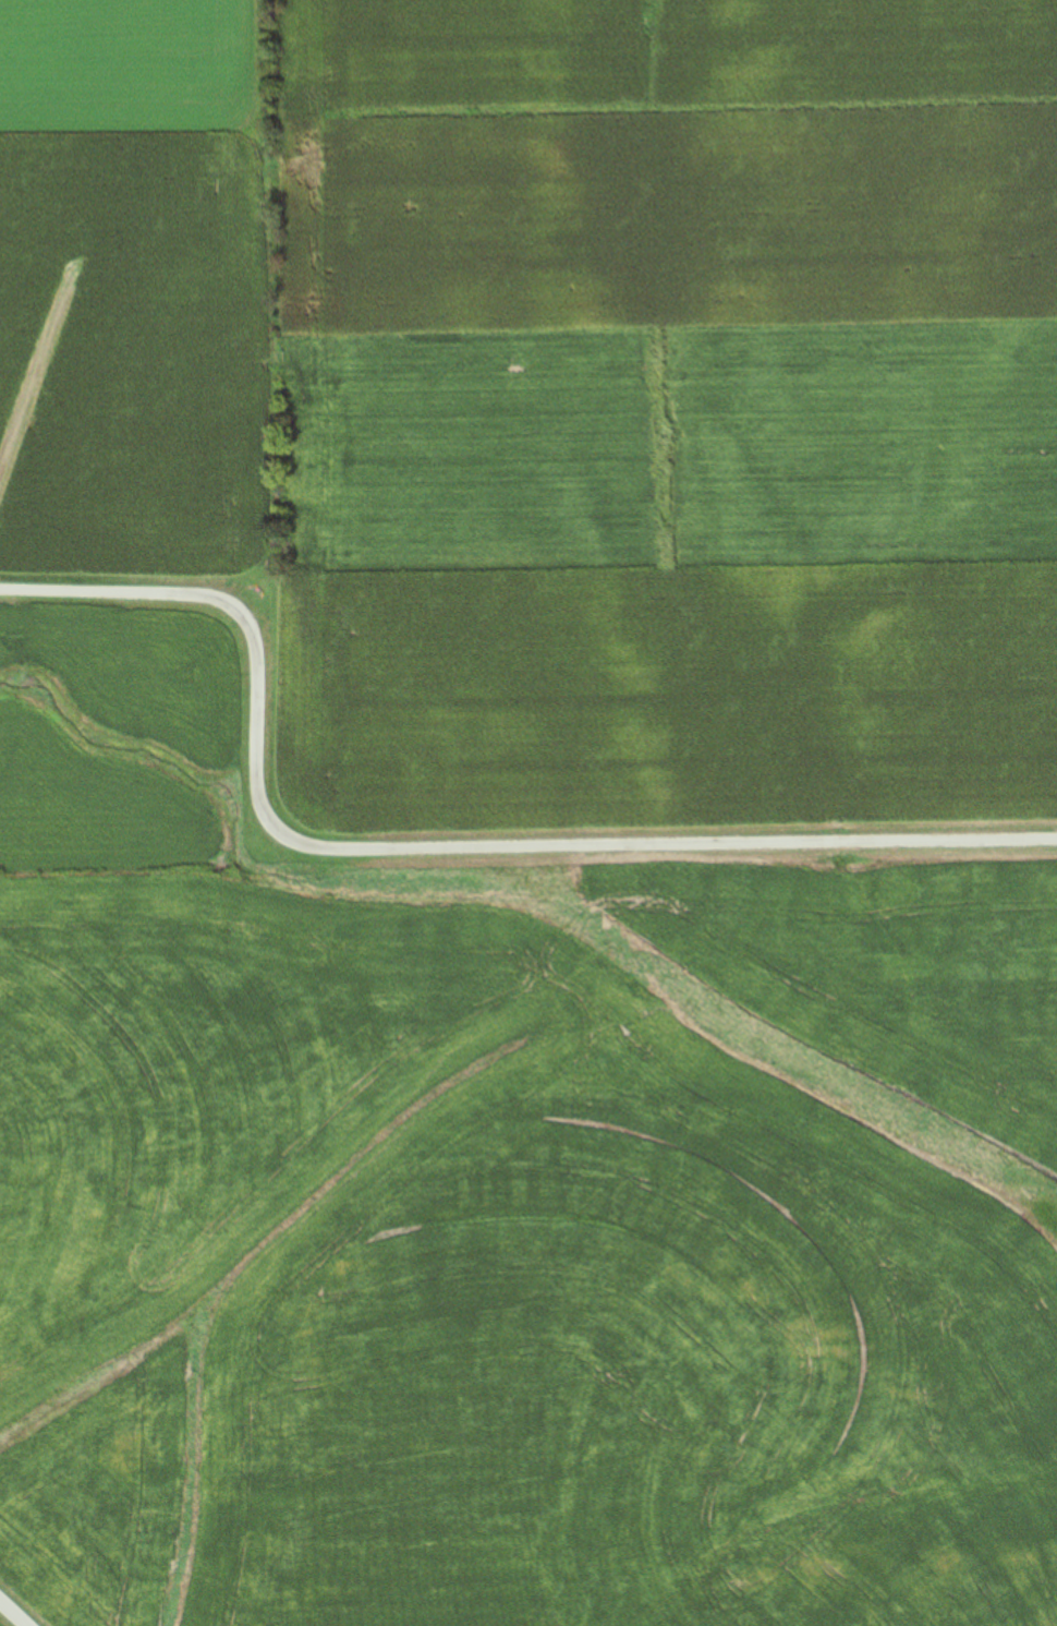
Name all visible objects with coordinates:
road: (430, 845)
road: (12, 1614)

